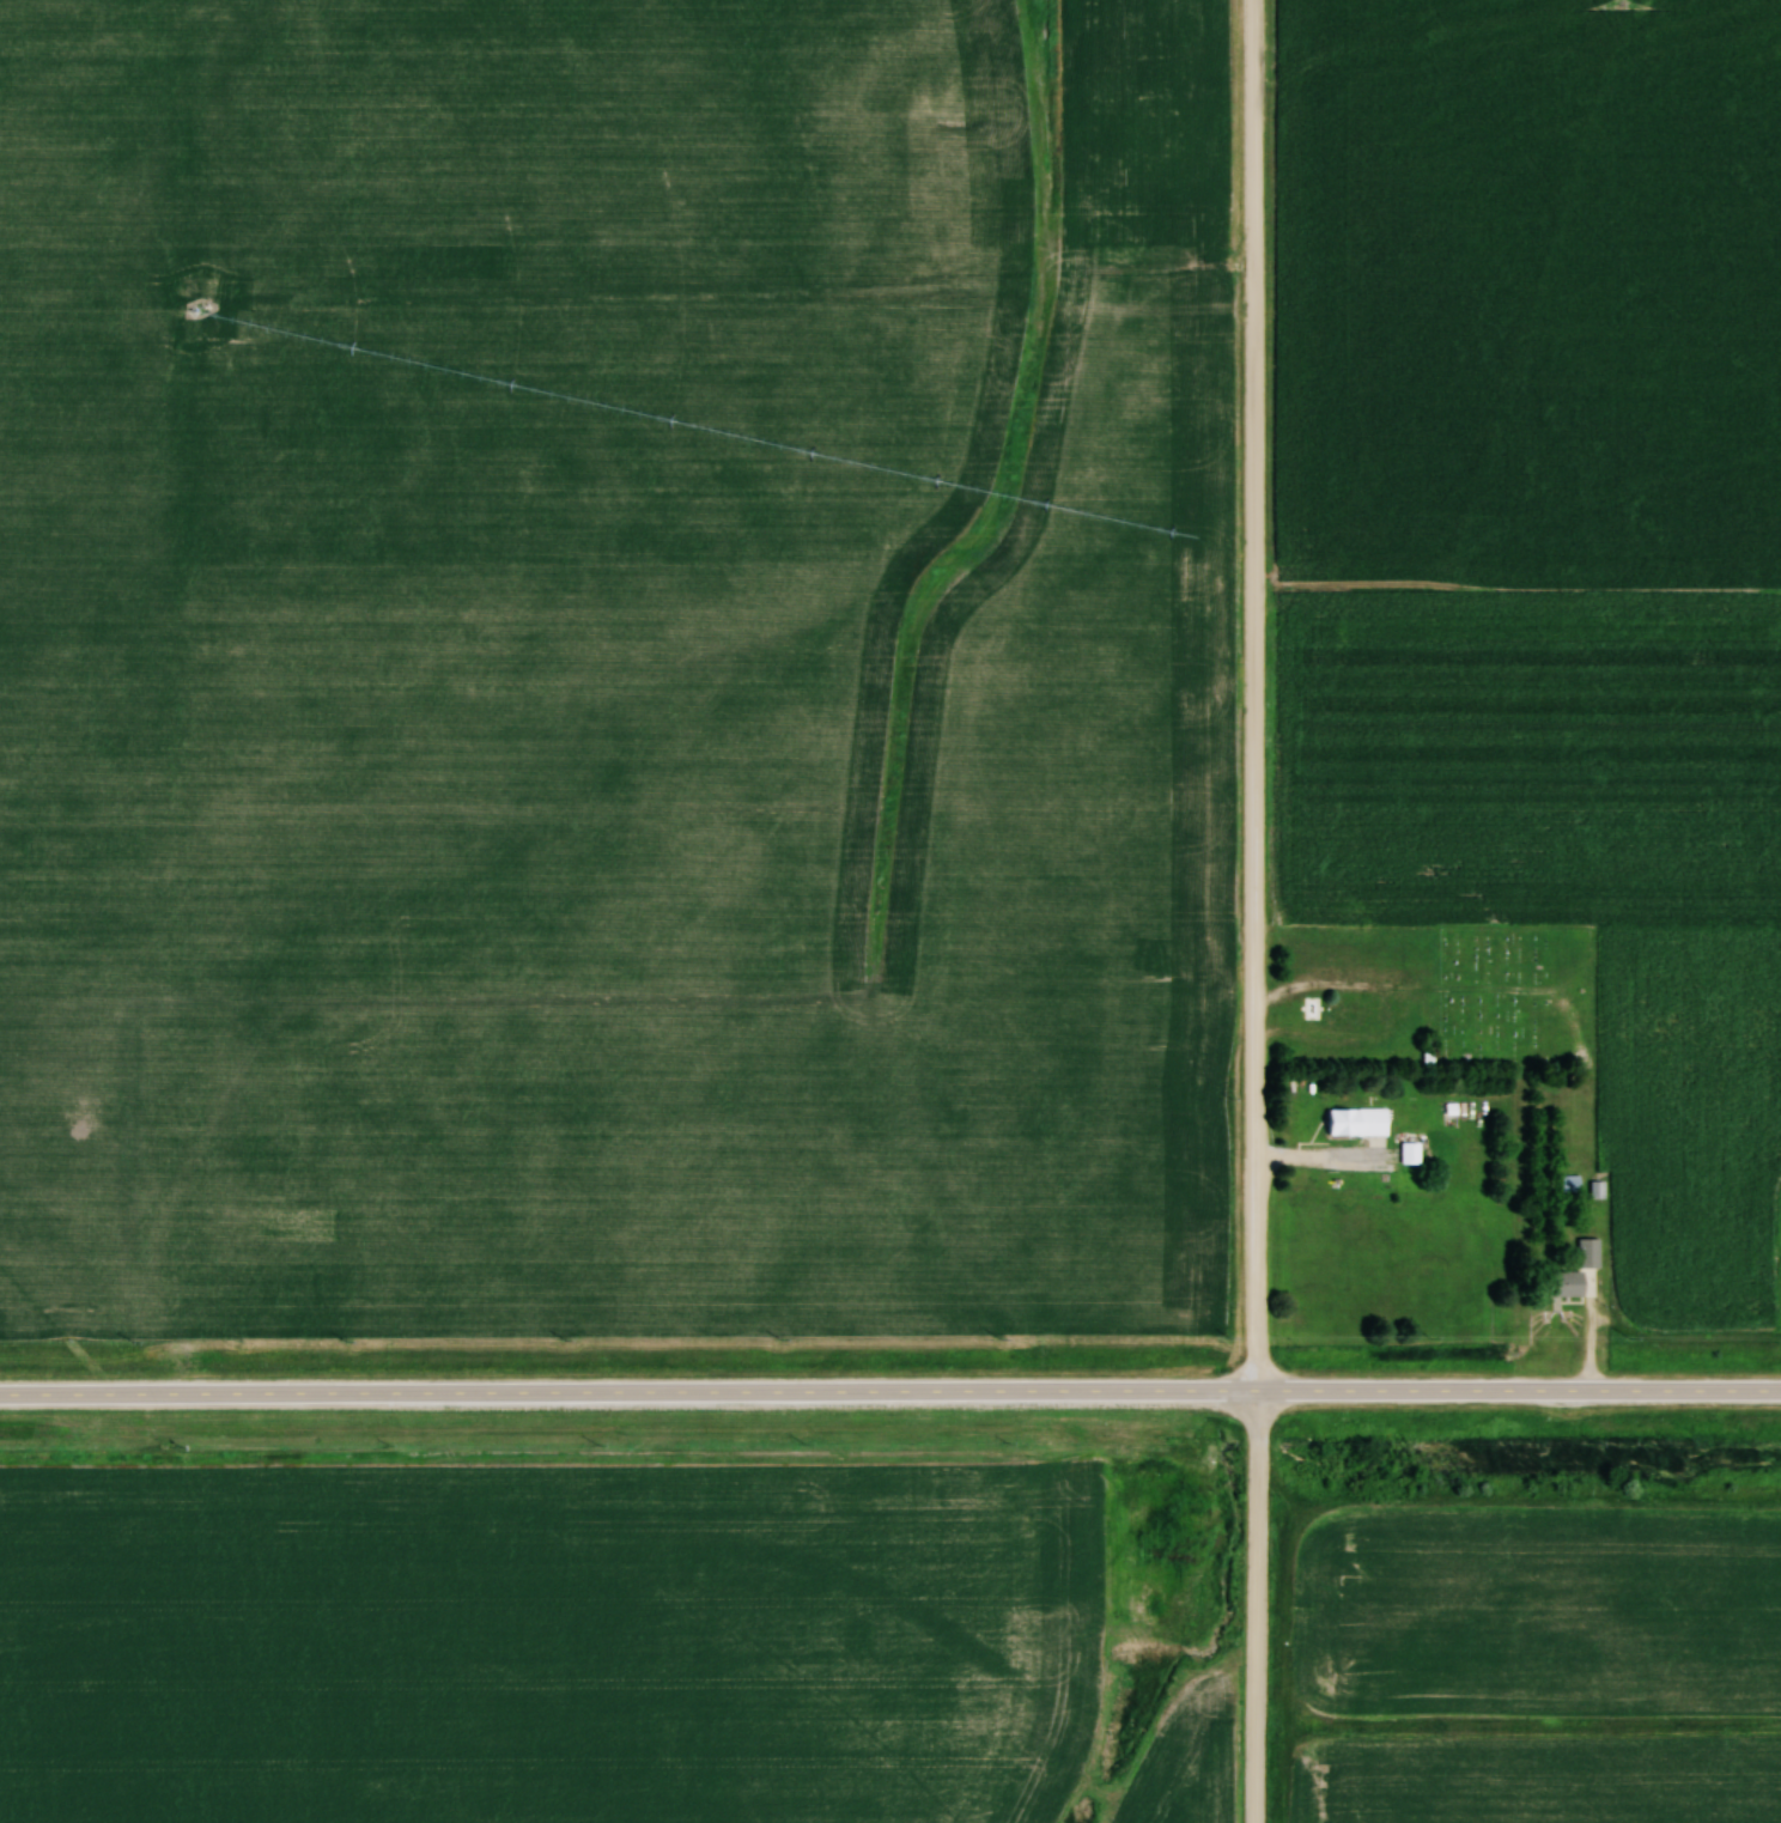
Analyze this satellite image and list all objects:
building: (1189, 218)
building: (1127, 225)
road: (1258, 911)
building: (1354, 1122)
building: (1409, 1153)
building: (1569, 1184)
building: (1598, 1190)
building: (1576, 1274)
road: (889, 1394)

